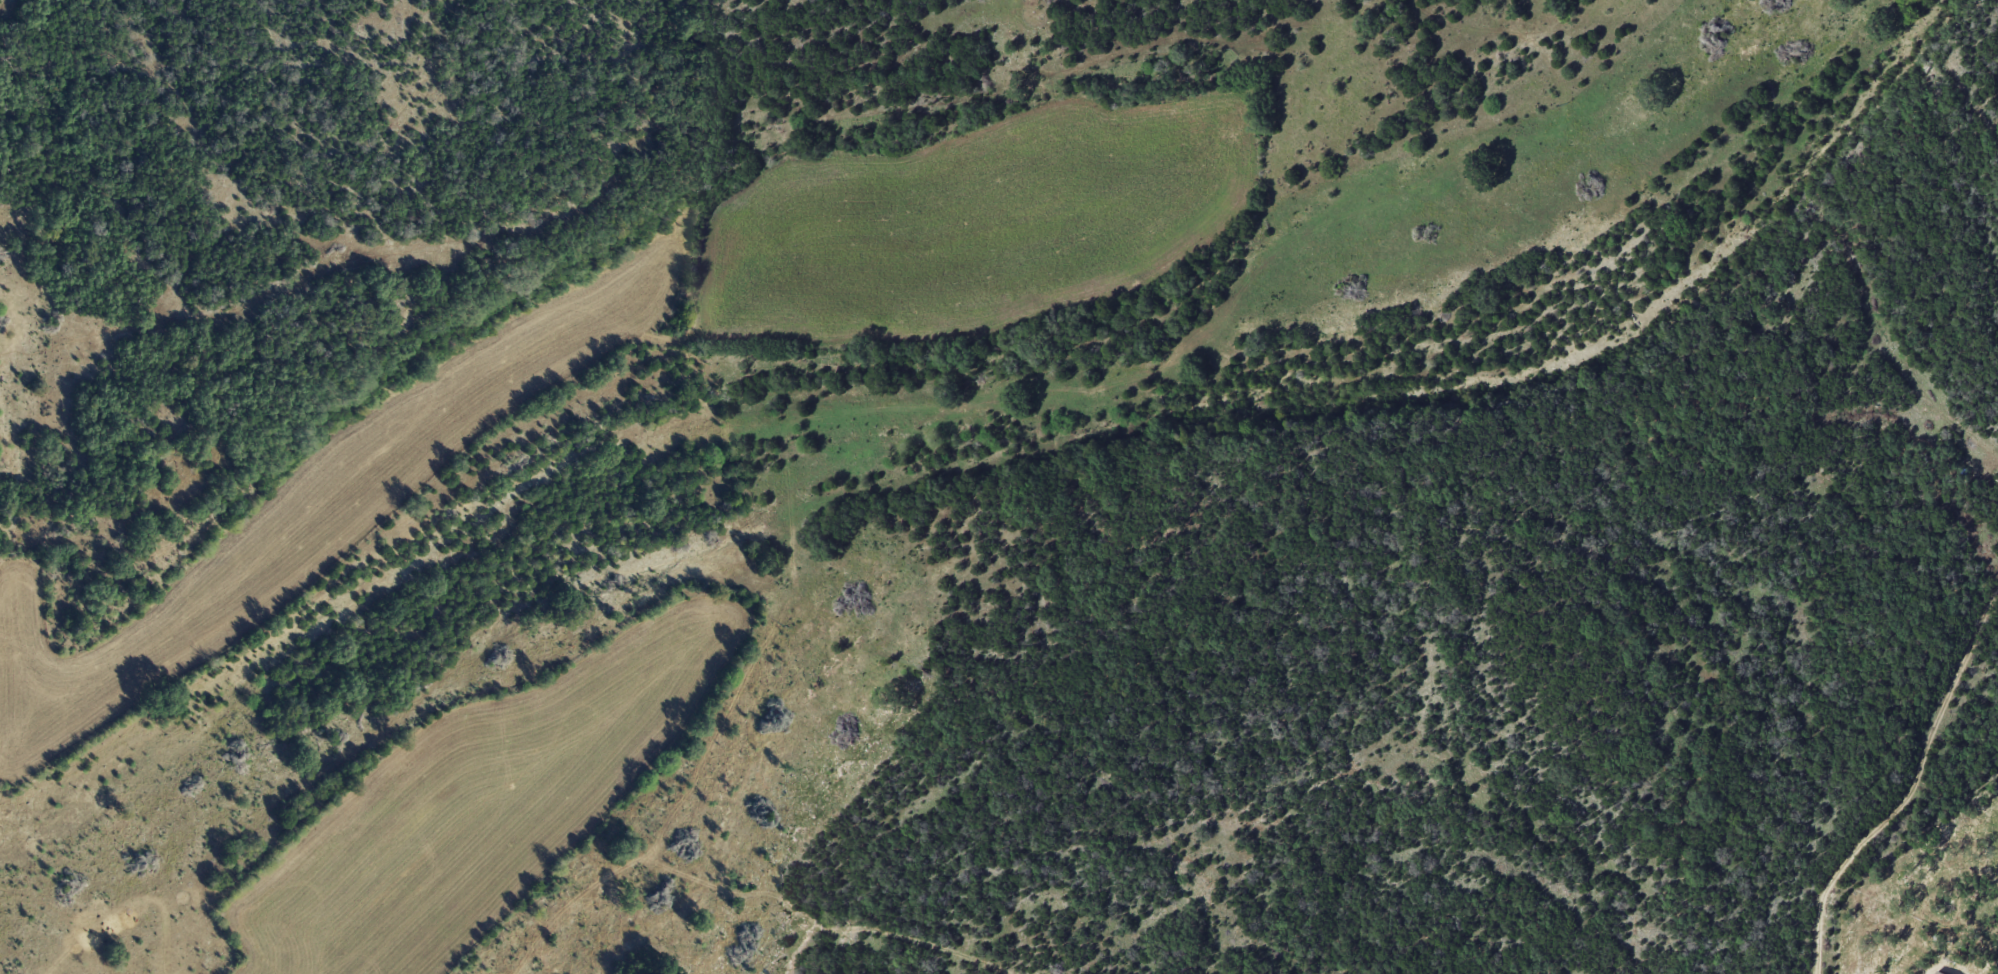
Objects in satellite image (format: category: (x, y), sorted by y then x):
building: (1937, 972)

